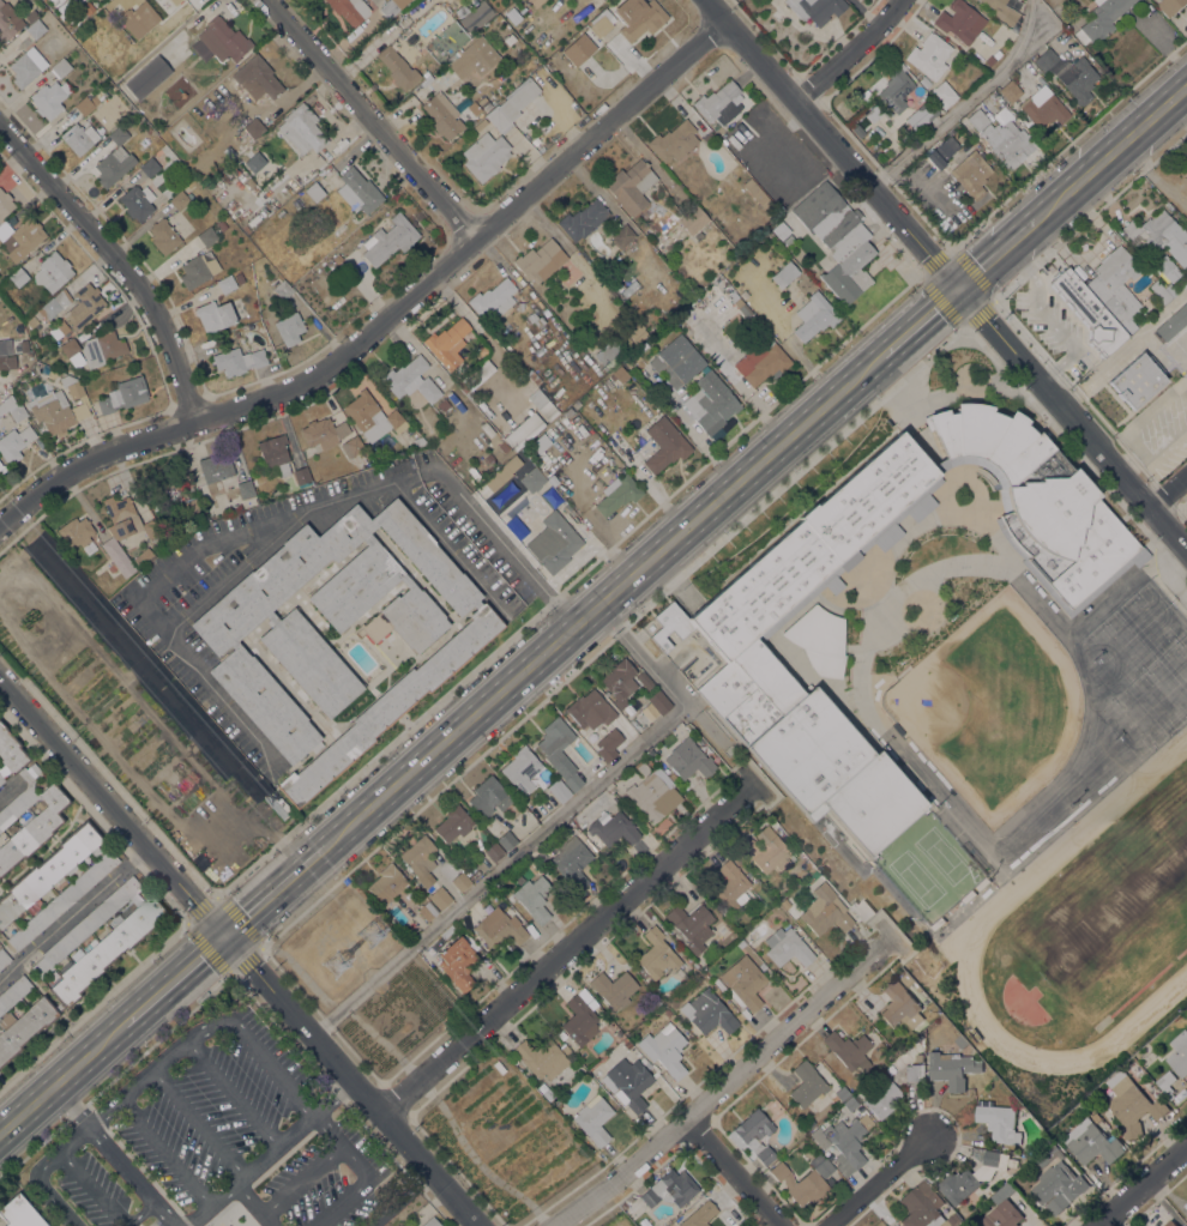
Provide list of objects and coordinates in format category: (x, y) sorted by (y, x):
building: (175, 1)
building: (534, 2)
building: (64, 6)
building: (1169, 6)
building: (392, 7)
building: (88, 8)
building: (815, 8)
building: (350, 10)
building: (1002, 11)
building: (476, 16)
building: (638, 17)
building: (139, 18)
building: (1101, 19)
building: (402, 20)
building: (959, 20)
building: (8, 22)
building: (602, 22)
building: (34, 24)
building: (222, 37)
building: (579, 49)
road: (849, 50)
building: (996, 54)
building: (929, 55)
building: (474, 58)
building: (990, 60)
building: (26, 66)
building: (61, 67)
building: (398, 67)
building: (145, 72)
building: (1069, 73)
building: (258, 78)
building: (924, 80)
building: (896, 86)
building: (1010, 90)
building: (944, 93)
building: (100, 95)
building: (866, 95)
building: (49, 98)
building: (484, 102)
building: (719, 102)
building: (512, 104)
building: (84, 105)
road: (960, 105)
building: (1042, 108)
building: (442, 115)
building: (860, 115)
building: (921, 115)
road: (370, 117)
building: (977, 119)
building: (480, 125)
building: (302, 128)
building: (251, 129)
building: (79, 137)
building: (709, 137)
building: (1004, 137)
building: (905, 139)
building: (535, 140)
building: (674, 140)
building: (941, 151)
road: (1110, 153)
building: (484, 155)
building: (114, 159)
building: (150, 167)
building: (971, 173)
building: (631, 185)
building: (314, 191)
building: (358, 191)
building: (758, 193)
building: (180, 200)
building: (138, 201)
building: (5, 203)
building: (281, 212)
building: (583, 219)
building: (693, 219)
building: (222, 224)
building: (163, 235)
building: (622, 235)
building: (699, 235)
building: (785, 235)
building: (1159, 235)
building: (207, 236)
building: (19, 238)
building: (390, 238)
building: (838, 240)
road: (995, 253)
road: (120, 259)
building: (540, 260)
building: (1168, 267)
building: (198, 268)
building: (53, 271)
building: (783, 274)
road: (945, 274)
building: (18, 277)
building: (239, 277)
building: (1182, 283)
building: (227, 284)
building: (629, 288)
traffic signals: (957, 288)
building: (283, 290)
building: (1170, 290)
building: (1159, 291)
building: (1102, 298)
building: (493, 300)
building: (53, 306)
building: (84, 306)
building: (519, 306)
building: (745, 309)
road: (385, 313)
building: (215, 315)
building: (814, 315)
building: (535, 319)
building: (32, 321)
road: (920, 321)
building: (1173, 322)
building: (289, 328)
building: (637, 332)
building: (447, 343)
building: (28, 345)
building: (5, 346)
building: (70, 348)
building: (102, 348)
building: (483, 350)
building: (609, 354)
building: (632, 360)
building: (761, 360)
building: (239, 361)
building: (677, 361)
building: (7, 362)
building: (53, 373)
building: (404, 374)
building: (534, 376)
building: (1137, 379)
building: (463, 385)
building: (428, 388)
building: (123, 394)
building: (536, 397)
building: (711, 401)
building: (444, 404)
building: (59, 406)
building: (361, 409)
building: (17, 411)
building: (394, 421)
building: (524, 430)
building: (324, 433)
building: (418, 441)
building: (664, 443)
building: (11, 446)
building: (504, 446)
building: (354, 447)
building: (275, 455)
building: (489, 458)
building: (216, 466)
building: (502, 472)
building: (302, 477)
building: (532, 479)
building: (553, 479)
road: (17, 482)
building: (245, 488)
road: (1169, 490)
building: (175, 494)
building: (617, 494)
building: (230, 503)
building: (126, 518)
building: (76, 531)
road: (498, 537)
building: (368, 538)
building: (555, 542)
building: (144, 556)
building: (116, 557)
road: (173, 568)
building: (406, 580)
building: (267, 584)
building: (355, 585)
road: (603, 600)
building: (477, 604)
building: (271, 617)
building: (408, 618)
railway: (593, 618)
building: (735, 632)
building: (819, 640)
building: (234, 644)
building: (311, 663)
building: (644, 680)
building: (620, 682)
building: (658, 701)
building: (265, 703)
building: (391, 706)
building: (590, 709)
road: (83, 717)
building: (608, 743)
building: (560, 750)
building: (688, 759)
building: (522, 768)
building: (1, 778)
road: (7, 786)
building: (559, 790)
building: (489, 796)
building: (653, 796)
building: (272, 797)
building: (26, 804)
building: (453, 823)
road: (546, 827)
building: (614, 827)
road: (246, 828)
building: (507, 839)
road: (272, 847)
building: (767, 850)
building: (494, 851)
road: (138, 854)
building: (420, 858)
building: (572, 862)
building: (47, 870)
building: (460, 881)
building: (387, 883)
building: (731, 886)
road: (329, 887)
road: (275, 889)
road: (216, 894)
building: (440, 896)
building: (534, 898)
building: (62, 899)
building: (784, 902)
road: (176, 907)
building: (862, 910)
building: (427, 911)
building: (825, 911)
building: (649, 913)
road: (64, 919)
building: (86, 925)
building: (691, 925)
building: (499, 928)
traffic signals: (224, 934)
power tower: (374, 934)
building: (741, 943)
building: (787, 947)
road: (566, 949)
road: (240, 952)
building: (657, 953)
building: (4, 956)
building: (458, 962)
power tower: (337, 966)
building: (761, 966)
building: (79, 976)
road: (174, 979)
building: (906, 979)
building: (743, 982)
building: (614, 988)
building: (13, 992)
building: (588, 998)
building: (900, 1005)
road: (343, 1007)
building: (667, 1011)
building: (707, 1011)
building: (579, 1020)
road: (241, 1029)
building: (561, 1034)
building: (627, 1043)
building: (665, 1047)
building: (849, 1050)
building: (1179, 1053)
building: (542, 1057)
building: (920, 1058)
building: (952, 1068)
building: (914, 1071)
road: (61, 1079)
building: (629, 1081)
building: (807, 1083)
building: (1167, 1083)
road: (722, 1086)
road: (231, 1093)
building: (842, 1093)
building: (548, 1094)
building: (620, 1097)
building: (882, 1097)
building: (850, 1103)
building: (1132, 1104)
building: (593, 1118)
building: (809, 1122)
road: (195, 1123)
building: (1000, 1123)
road: (417, 1124)
building: (754, 1134)
road: (72, 1137)
building: (819, 1137)
building: (848, 1142)
building: (1091, 1142)
road: (164, 1152)
road: (270, 1152)
road: (113, 1155)
building: (1049, 1155)
road: (482, 1166)
building: (778, 1170)
road: (733, 1172)
road: (299, 1176)
building: (972, 1177)
road: (879, 1178)
building: (812, 1180)
road: (1140, 1185)
building: (1059, 1186)
building: (670, 1188)
road: (42, 1189)
building: (1002, 1191)
road: (560, 1196)
road: (102, 1197)
road: (400, 1198)
road: (341, 1201)
road: (254, 1203)
building: (924, 1207)
road: (601, 1212)
building: (19, 1213)
building: (699, 1214)
building: (1002, 1215)
building: (432, 1221)
building: (1170, 1222)
building: (227, 1225)

